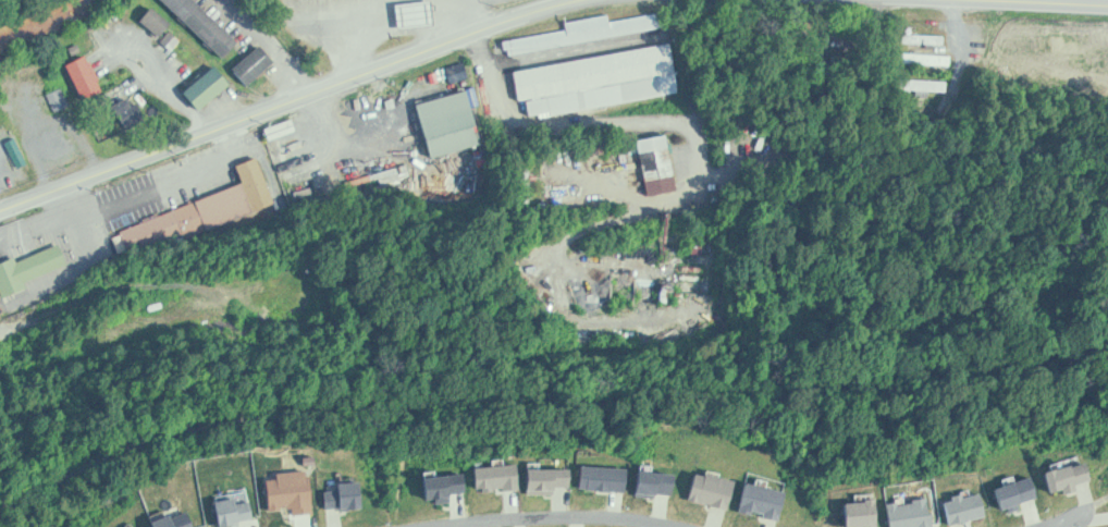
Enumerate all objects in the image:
road: (1068, 1)
building: (419, 13)
river: (46, 21)
building: (159, 22)
building: (208, 25)
building: (588, 30)
building: (926, 38)
building: (928, 58)
building: (257, 64)
building: (596, 72)
building: (88, 78)
building: (211, 87)
building: (604, 95)
building: (58, 99)
road: (287, 101)
building: (131, 112)
building: (453, 125)
building: (61, 143)
building: (4, 161)
building: (661, 163)
road: (369, 204)
building: (206, 211)
building: (30, 268)
road: (23, 353)
road: (546, 403)
road: (552, 513)
road: (1060, 518)

